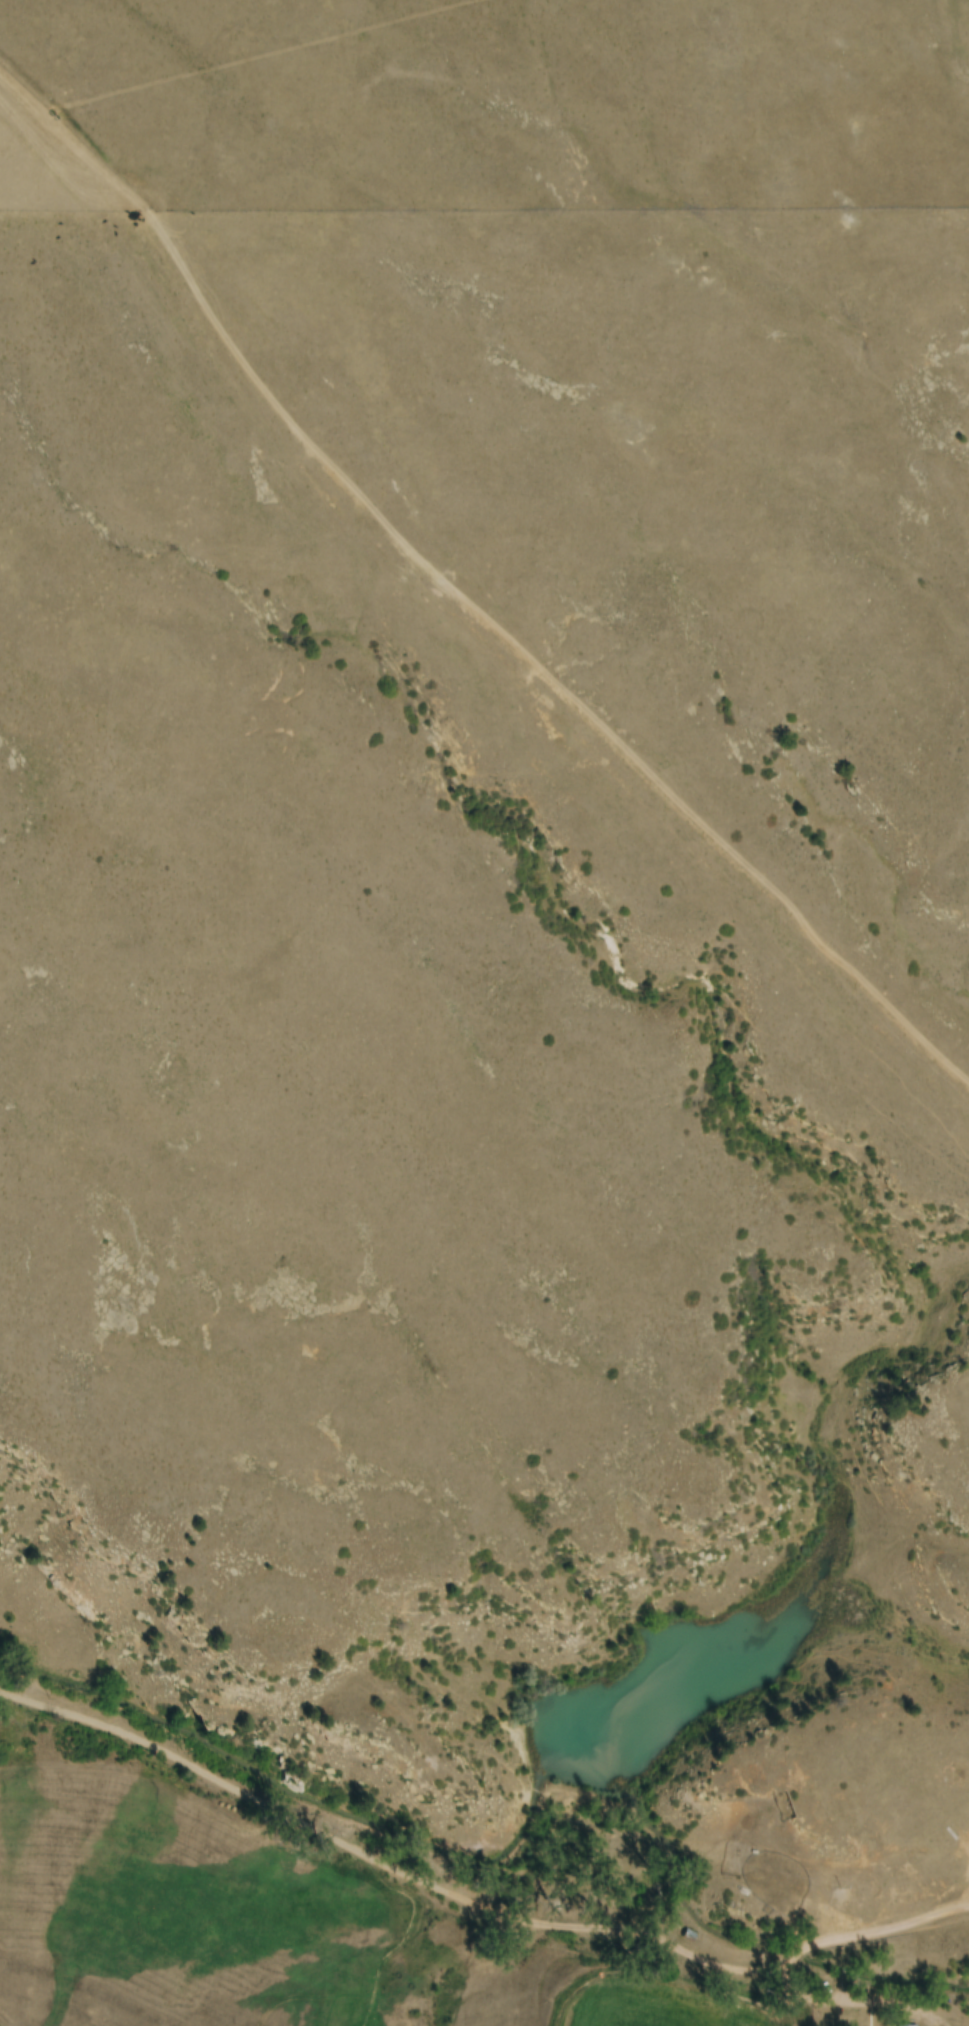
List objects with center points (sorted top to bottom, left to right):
road: (498, 1903)

